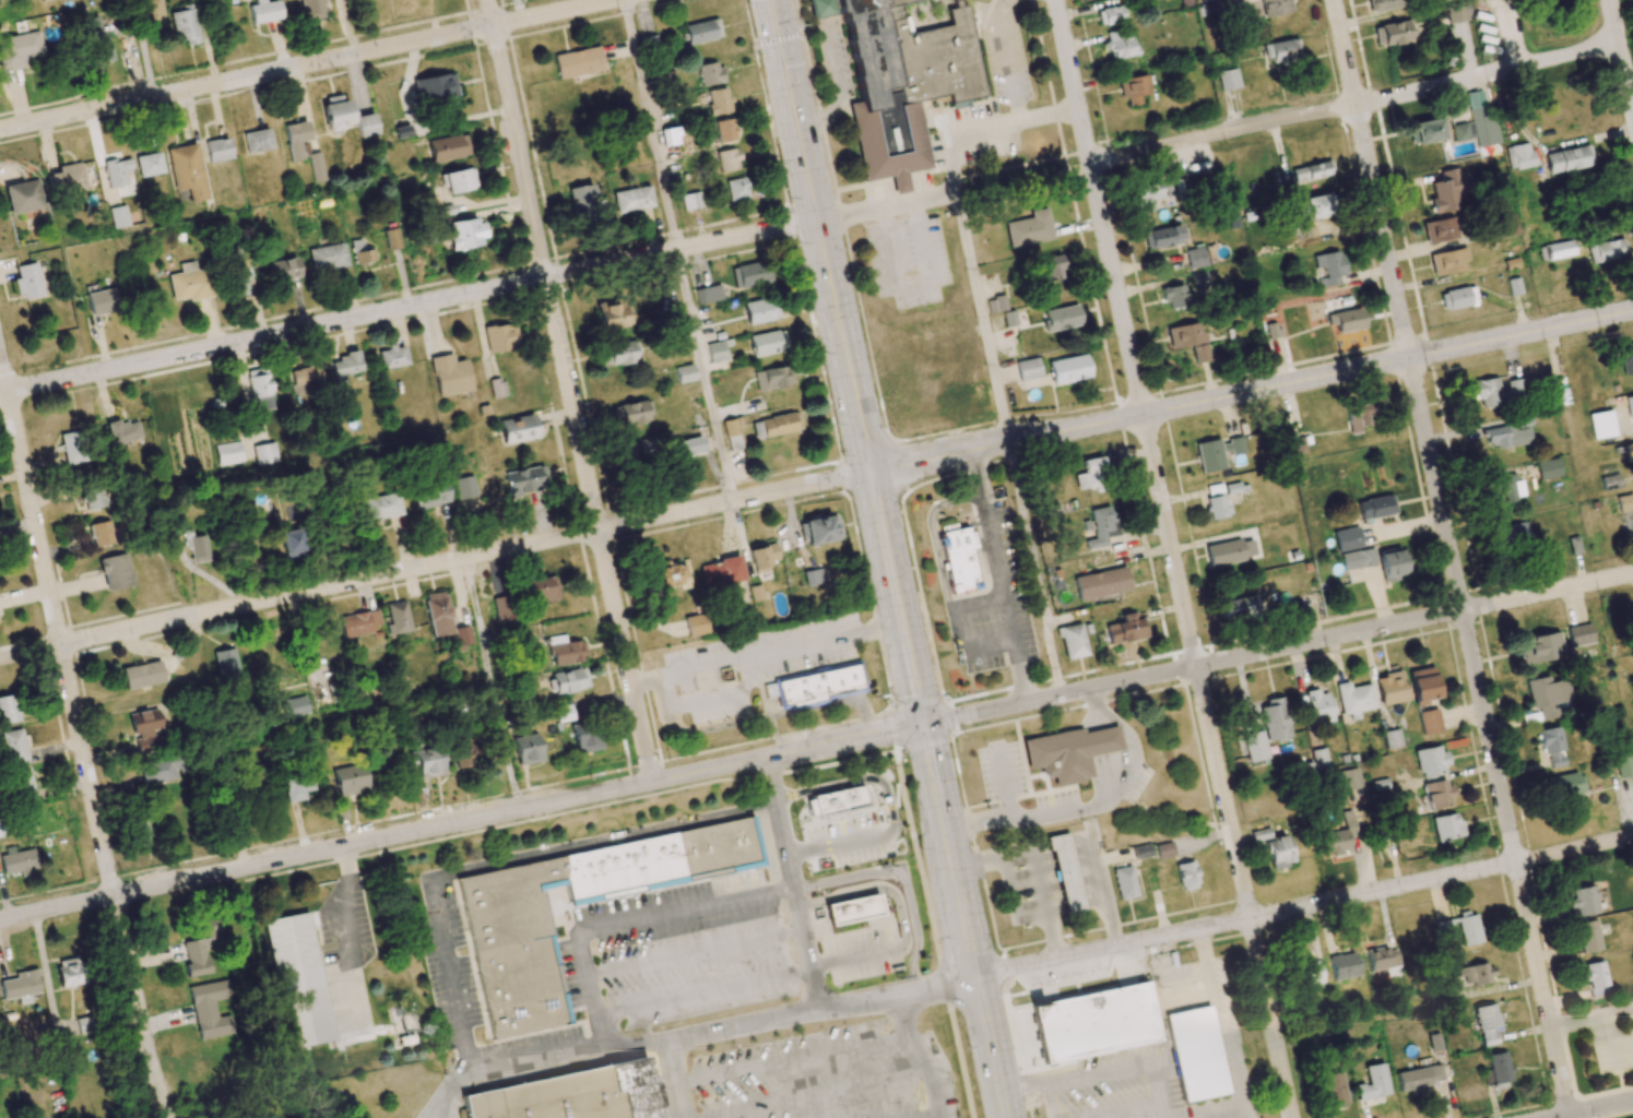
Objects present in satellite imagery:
building: (1207, 0)
building: (1382, 4)
building: (1275, 7)
building: (311, 9)
building: (264, 11)
building: (1456, 12)
building: (150, 13)
building: (1110, 15)
building: (184, 26)
building: (702, 31)
building: (1392, 33)
road: (778, 38)
building: (95, 40)
building: (1120, 44)
building: (20, 50)
road: (1003, 50)
building: (1281, 50)
road: (1619, 58)
building: (578, 62)
road: (307, 63)
building: (709, 73)
building: (902, 74)
building: (1228, 79)
building: (434, 88)
building: (1134, 88)
building: (719, 102)
road: (793, 109)
building: (335, 111)
building: (1482, 122)
building: (365, 124)
road: (652, 124)
building: (725, 130)
building: (1428, 131)
building: (1462, 131)
road: (961, 132)
road: (1217, 134)
building: (670, 135)
building: (296, 139)
building: (257, 141)
building: (448, 147)
building: (217, 150)
building: (1518, 156)
building: (729, 159)
building: (1567, 159)
building: (147, 164)
building: (316, 166)
building: (187, 170)
building: (116, 171)
building: (1311, 171)
building: (67, 179)
road: (1371, 179)
building: (459, 180)
building: (736, 189)
building: (1445, 191)
building: (1158, 195)
building: (24, 197)
building: (632, 199)
building: (691, 200)
building: (581, 202)
road: (1099, 206)
building: (1314, 206)
building: (117, 216)
building: (1505, 226)
building: (1029, 228)
building: (1316, 228)
building: (1440, 229)
building: (466, 234)
building: (1162, 237)
building: (391, 238)
building: (1555, 250)
building: (362, 251)
building: (1605, 251)
building: (327, 257)
building: (1195, 258)
building: (1447, 262)
building: (1329, 266)
building: (1052, 269)
building: (284, 270)
building: (233, 272)
building: (750, 274)
building: (1197, 277)
building: (28, 281)
building: (188, 283)
building: (708, 294)
building: (1173, 296)
building: (1457, 298)
building: (103, 301)
road: (409, 306)
building: (760, 310)
building: (612, 314)
road: (983, 316)
building: (1061, 318)
building: (1346, 320)
building: (1273, 330)
building: (500, 337)
building: (1188, 338)
building: (767, 343)
building: (715, 352)
building: (619, 354)
building: (392, 357)
building: (1626, 358)
building: (344, 367)
building: (1028, 369)
building: (1068, 369)
building: (684, 373)
building: (449, 374)
road: (706, 374)
building: (305, 378)
building: (772, 378)
building: (497, 388)
road: (569, 390)
road: (1252, 391)
building: (1493, 392)
building: (260, 395)
building: (981, 396)
building: (1629, 405)
building: (631, 413)
building: (1359, 418)
building: (1523, 420)
building: (776, 425)
building: (1601, 425)
building: (518, 429)
building: (122, 431)
building: (732, 435)
building: (1506, 436)
building: (73, 447)
building: (1629, 452)
building: (227, 453)
building: (263, 453)
building: (626, 453)
building: (684, 455)
building: (1209, 455)
building: (1547, 468)
road: (871, 471)
building: (1091, 475)
building: (525, 480)
building: (1506, 487)
building: (427, 495)
building: (466, 495)
building: (96, 499)
building: (1624, 503)
building: (1217, 507)
building: (1375, 507)
building: (381, 508)
building: (1101, 526)
building: (820, 528)
building: (102, 533)
building: (1510, 535)
building: (1347, 538)
building: (291, 543)
building: (194, 544)
building: (1574, 545)
building: (1229, 551)
building: (762, 557)
building: (1358, 559)
building: (958, 560)
road: (435, 563)
building: (1389, 563)
road: (1038, 568)
building: (116, 571)
building: (721, 572)
building: (667, 574)
building: (813, 576)
road: (997, 576)
building: (1101, 583)
building: (542, 588)
building: (1239, 608)
building: (499, 609)
building: (437, 614)
building: (397, 618)
building: (357, 622)
building: (695, 625)
building: (1126, 629)
building: (1579, 634)
building: (461, 635)
building: (1072, 641)
road: (781, 649)
road: (1278, 649)
building: (1539, 649)
building: (564, 651)
building: (226, 663)
building: (141, 675)
road: (644, 677)
building: (569, 680)
building: (815, 685)
building: (1422, 686)
building: (1391, 688)
building: (1547, 695)
building: (1353, 699)
building: (296, 705)
building: (1317, 706)
building: (8, 710)
road: (756, 717)
building: (1274, 719)
building: (1429, 722)
building: (145, 724)
traffic signals: (924, 724)
road: (80, 733)
road: (952, 735)
building: (585, 738)
road: (1490, 738)
building: (1392, 739)
building: (13, 746)
building: (1254, 746)
building: (1551, 746)
building: (526, 749)
building: (1068, 752)
building: (465, 756)
building: (1320, 759)
building: (1430, 761)
building: (429, 762)
road: (1217, 766)
building: (1624, 766)
building: (158, 771)
building: (1349, 780)
building: (351, 781)
building: (22, 783)
building: (1564, 785)
building: (298, 786)
road: (823, 788)
building: (1436, 794)
building: (258, 795)
building: (836, 801)
road: (1091, 806)
road: (462, 822)
building: (1446, 826)
building: (142, 833)
building: (1261, 834)
building: (1339, 835)
road: (866, 836)
building: (1163, 851)
building: (1141, 852)
building: (1279, 852)
building: (19, 860)
road: (1040, 863)
road: (476, 868)
building: (1064, 873)
building: (1186, 876)
building: (1124, 882)
road: (791, 883)
road: (1102, 892)
road: (738, 897)
road: (342, 901)
building: (1583, 901)
road: (1304, 906)
building: (852, 909)
road: (900, 916)
road: (965, 920)
building: (1468, 928)
building: (1444, 929)
building: (1588, 937)
building: (201, 948)
building: (516, 963)
building: (1342, 965)
building: (69, 974)
building: (1474, 974)
building: (1595, 974)
building: (1310, 976)
building: (298, 979)
building: (20, 985)
building: (210, 1009)
road: (1591, 1015)
building: (1093, 1022)
road: (1222, 1023)
building: (84, 1024)
building: (1487, 1024)
road: (723, 1028)
road: (855, 1044)
building: (1195, 1054)
road: (920, 1055)
road: (750, 1067)
road: (1104, 1067)
building: (1496, 1068)
building: (1417, 1078)
building: (1373, 1082)
building: (1333, 1090)
building: (572, 1095)
road: (816, 1095)
road: (679, 1099)
road: (1591, 1109)
road: (1131, 1110)
road: (927, 1116)

